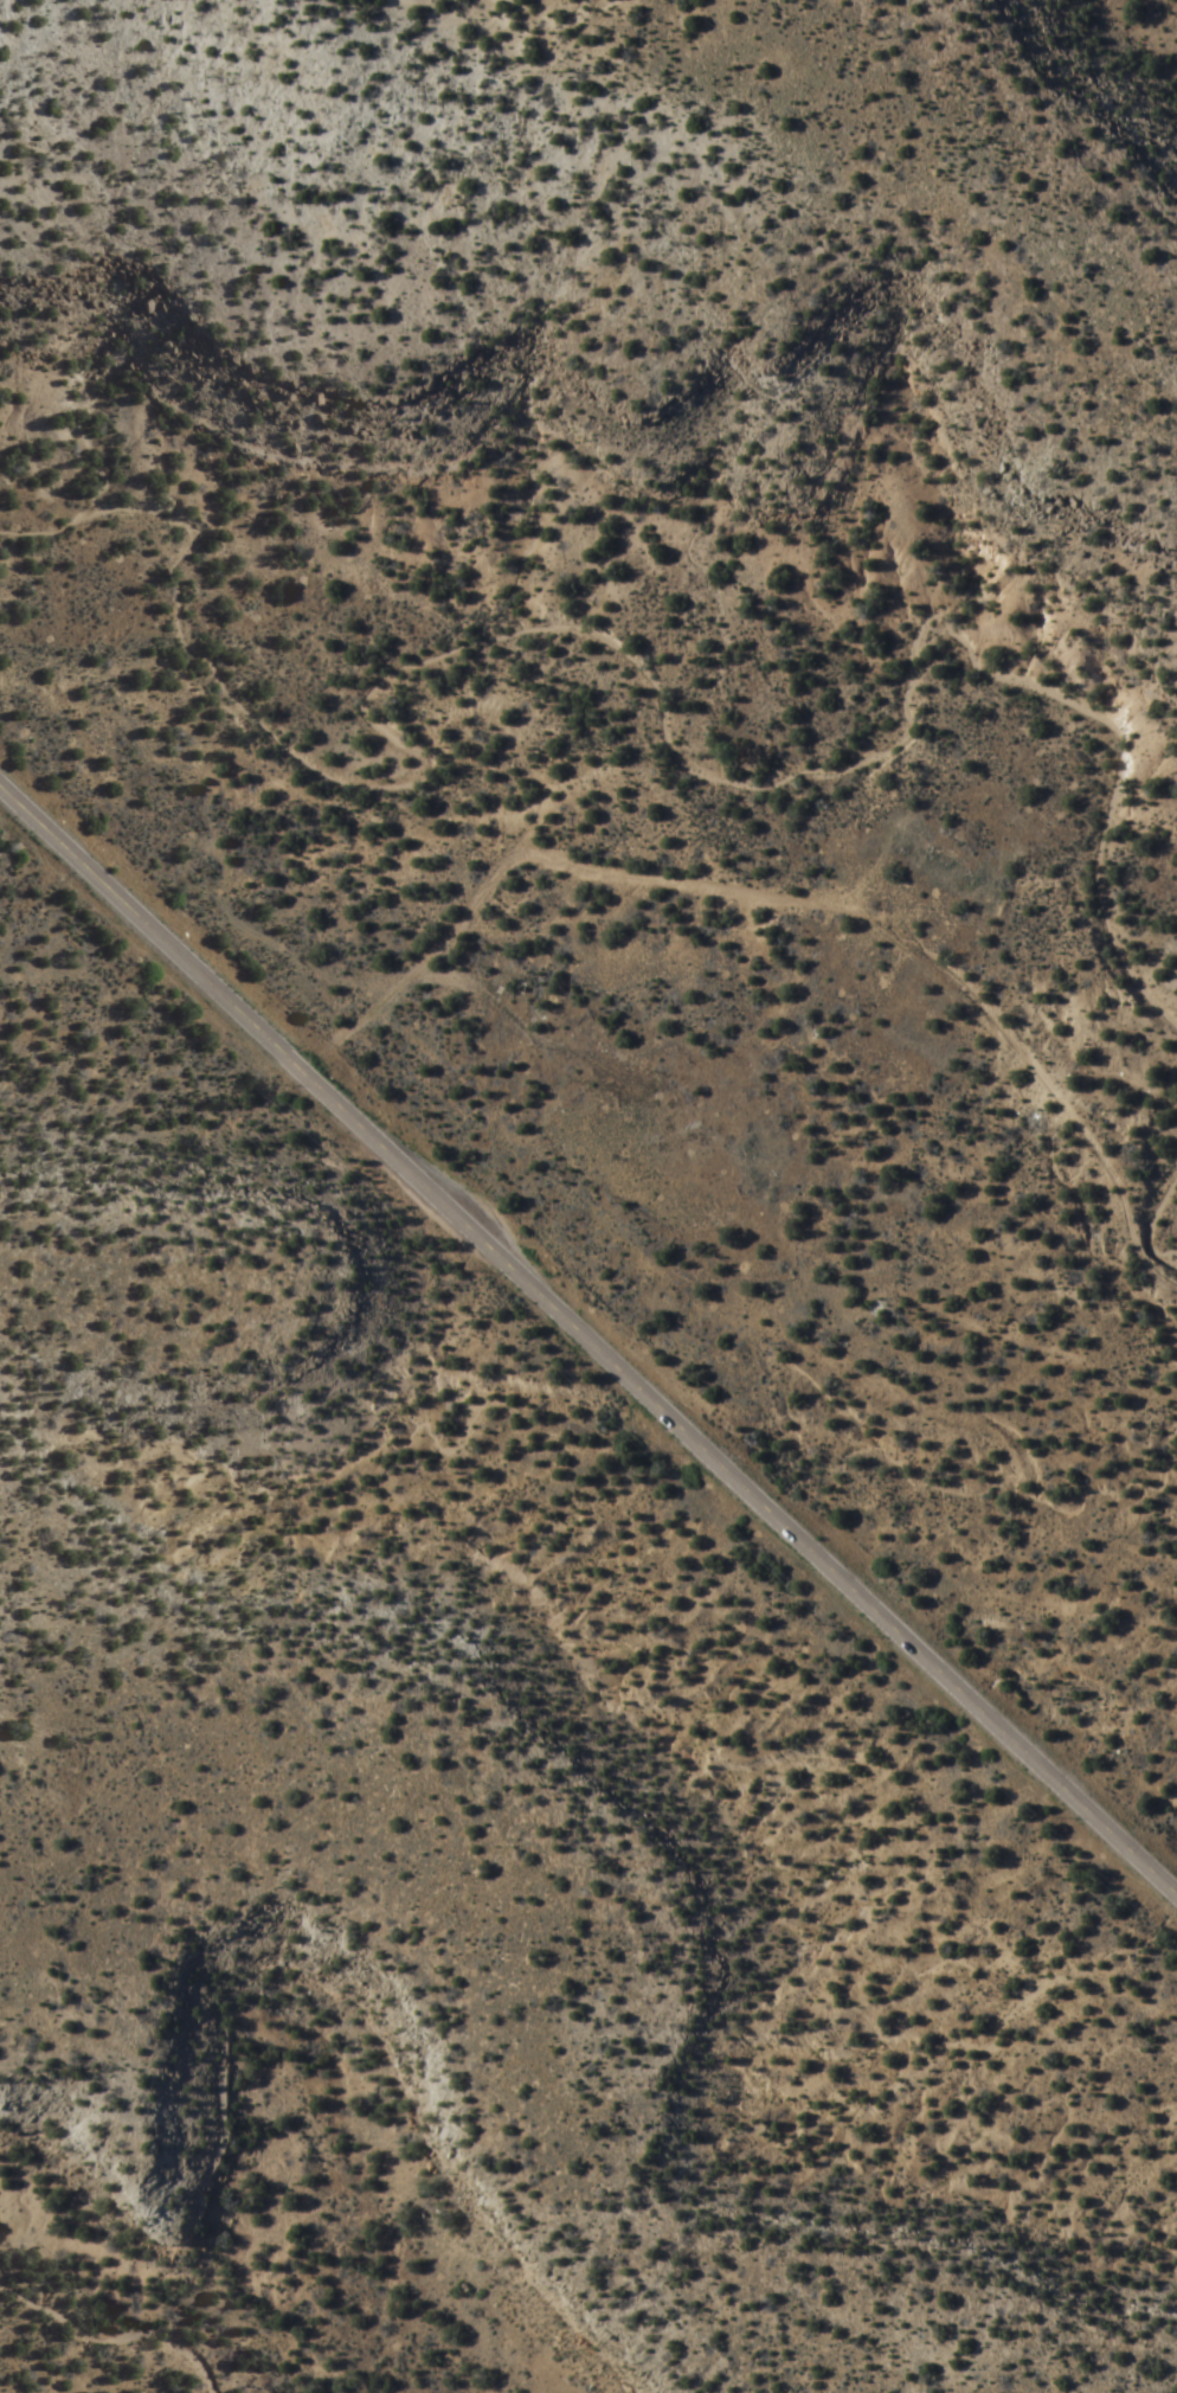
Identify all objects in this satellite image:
road: (588, 1339)

